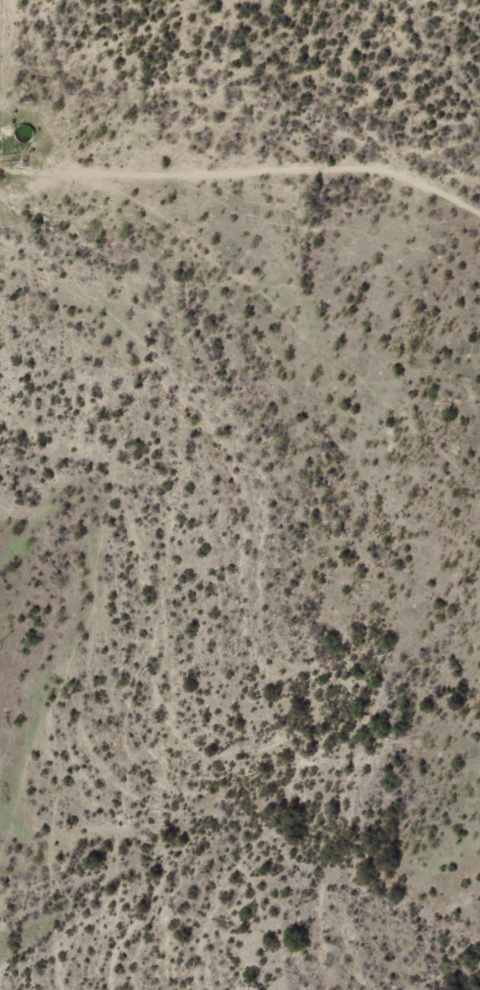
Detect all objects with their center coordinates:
road: (1, 30)
power tower: (251, 988)

